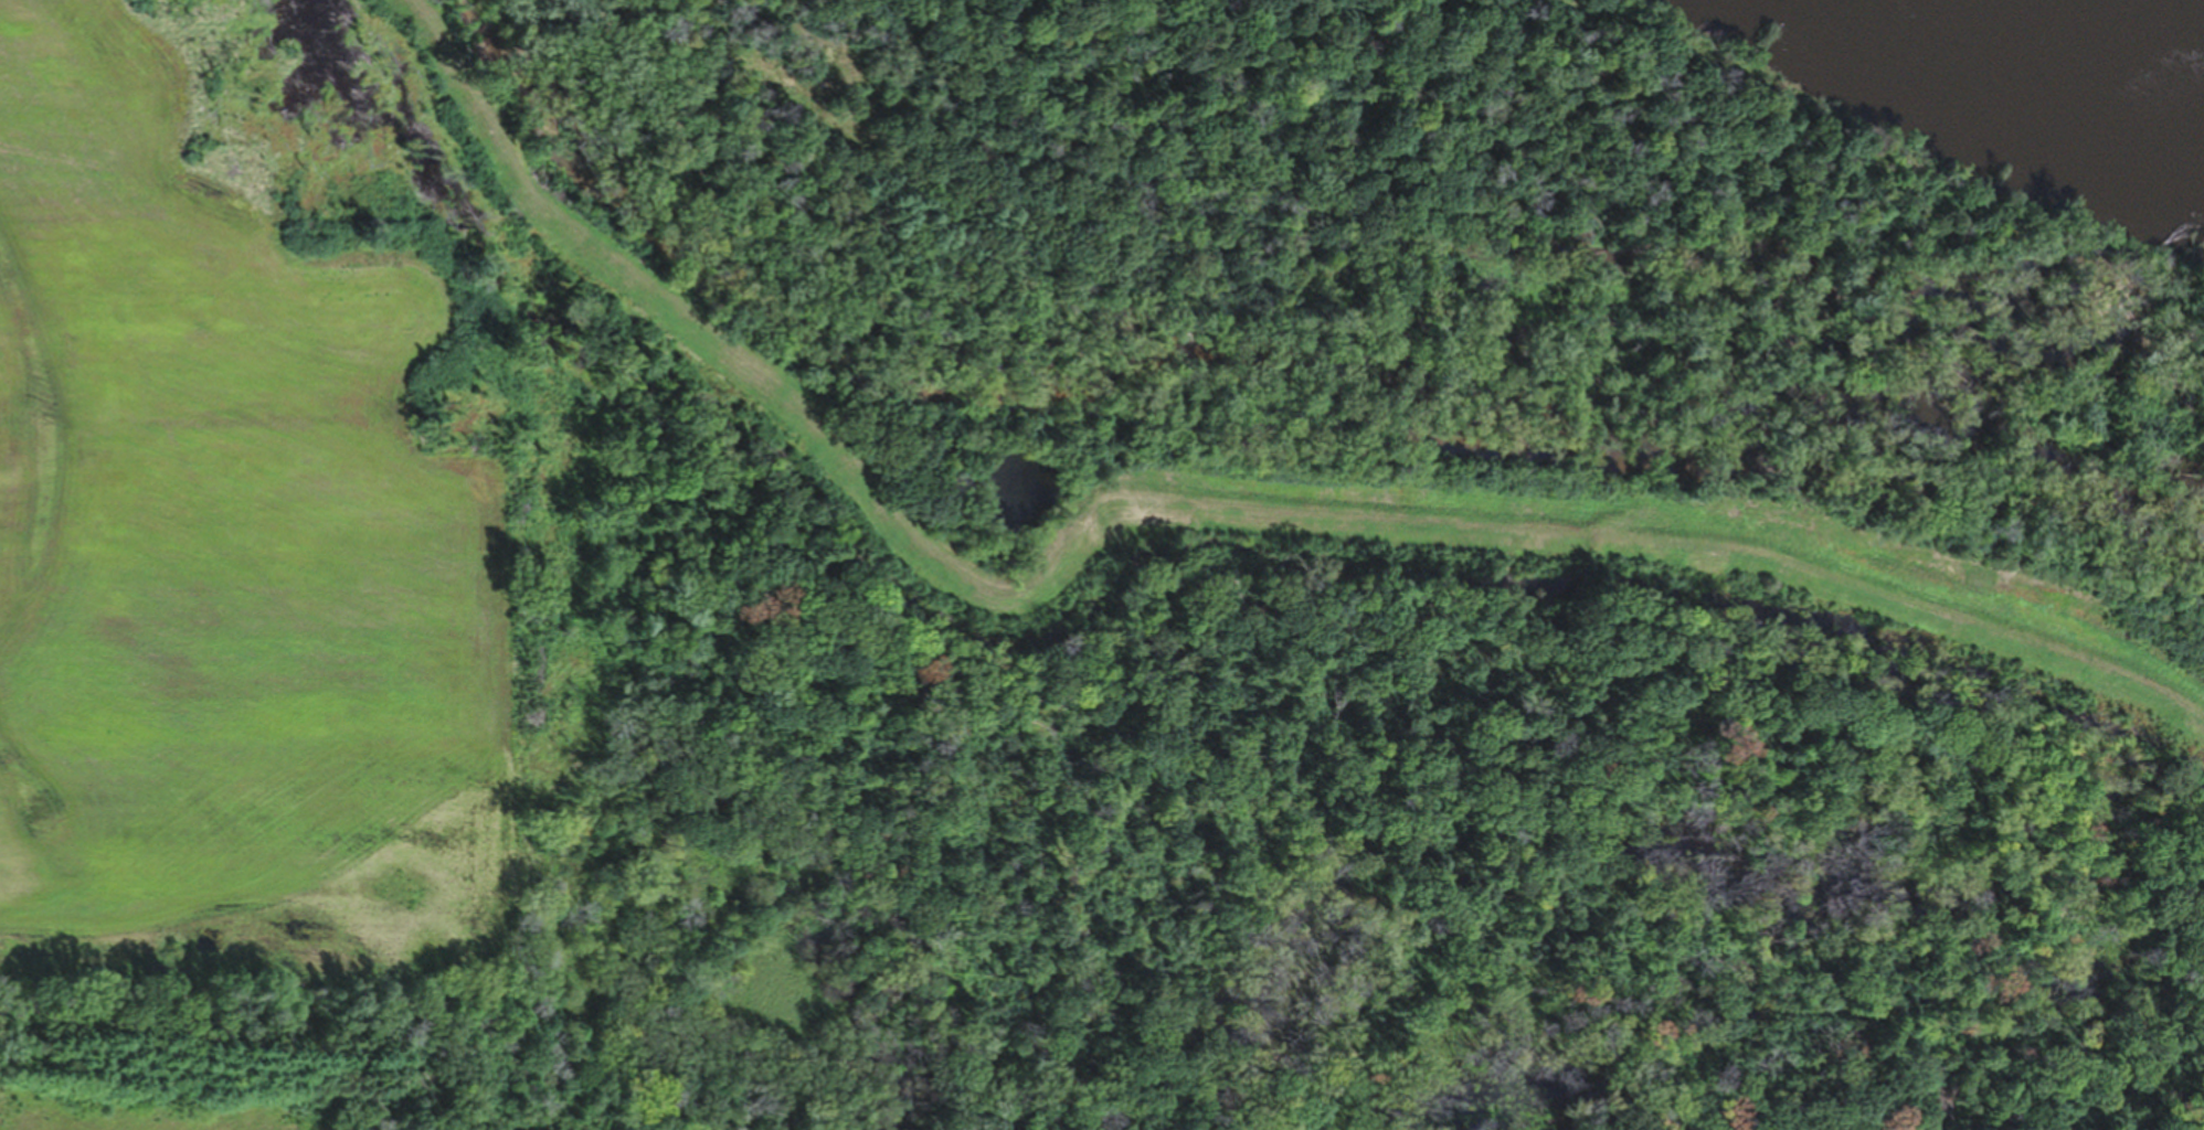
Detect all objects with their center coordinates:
river: (2086, 64)
road: (1180, 513)

